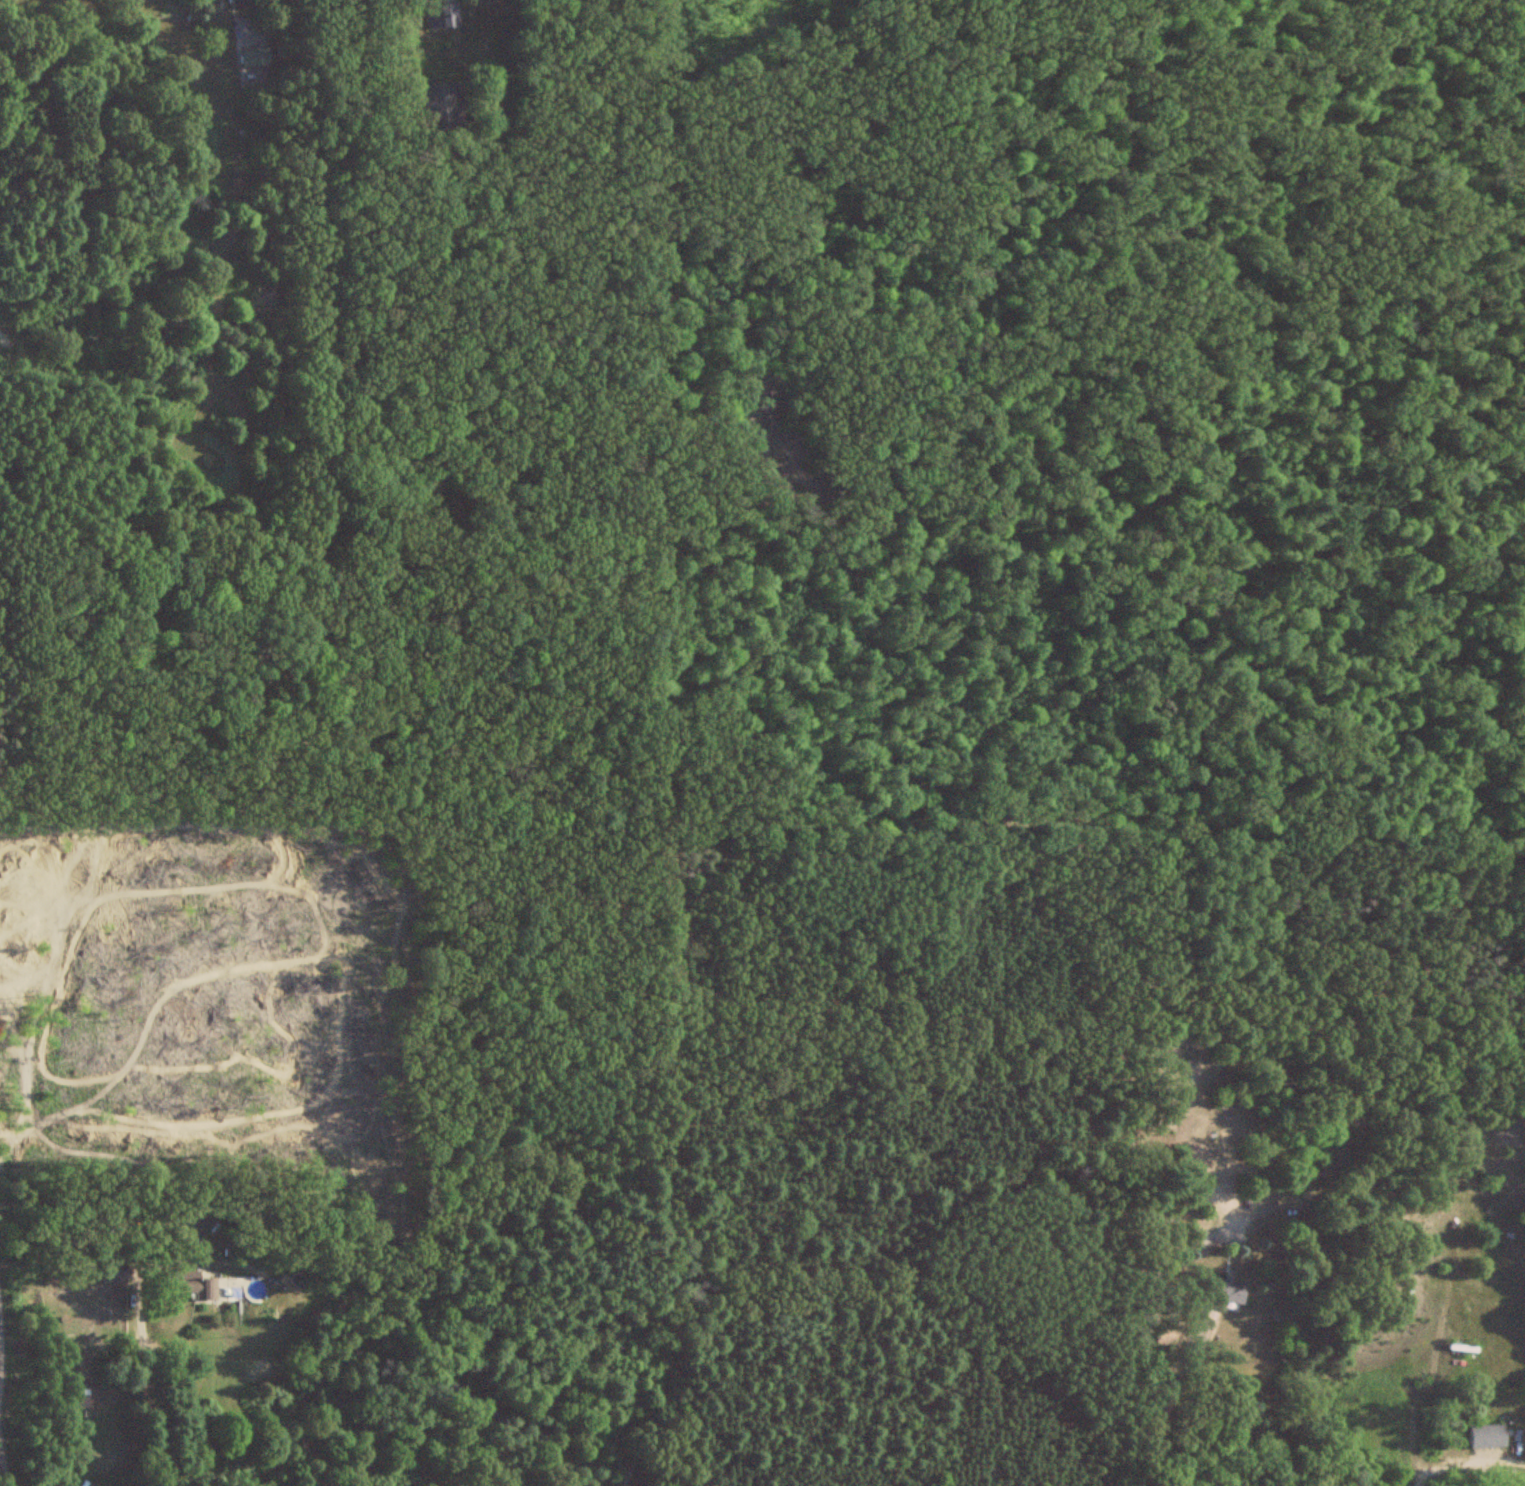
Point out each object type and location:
building: (246, 4)
building: (442, 16)
building: (254, 58)
building: (441, 105)
building: (360, 106)
building: (115, 1276)
building: (191, 1286)
building: (1227, 1290)
road: (148, 1388)
road: (1175, 1397)
building: (1488, 1436)
road: (1465, 1463)

